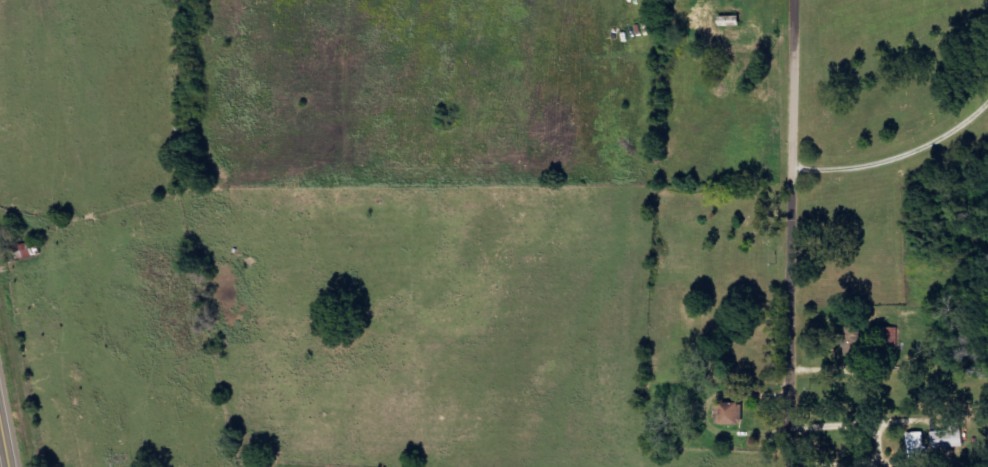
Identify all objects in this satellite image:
road: (798, 233)
building: (891, 336)
building: (855, 341)
building: (731, 413)
road: (6, 434)
building: (952, 434)

